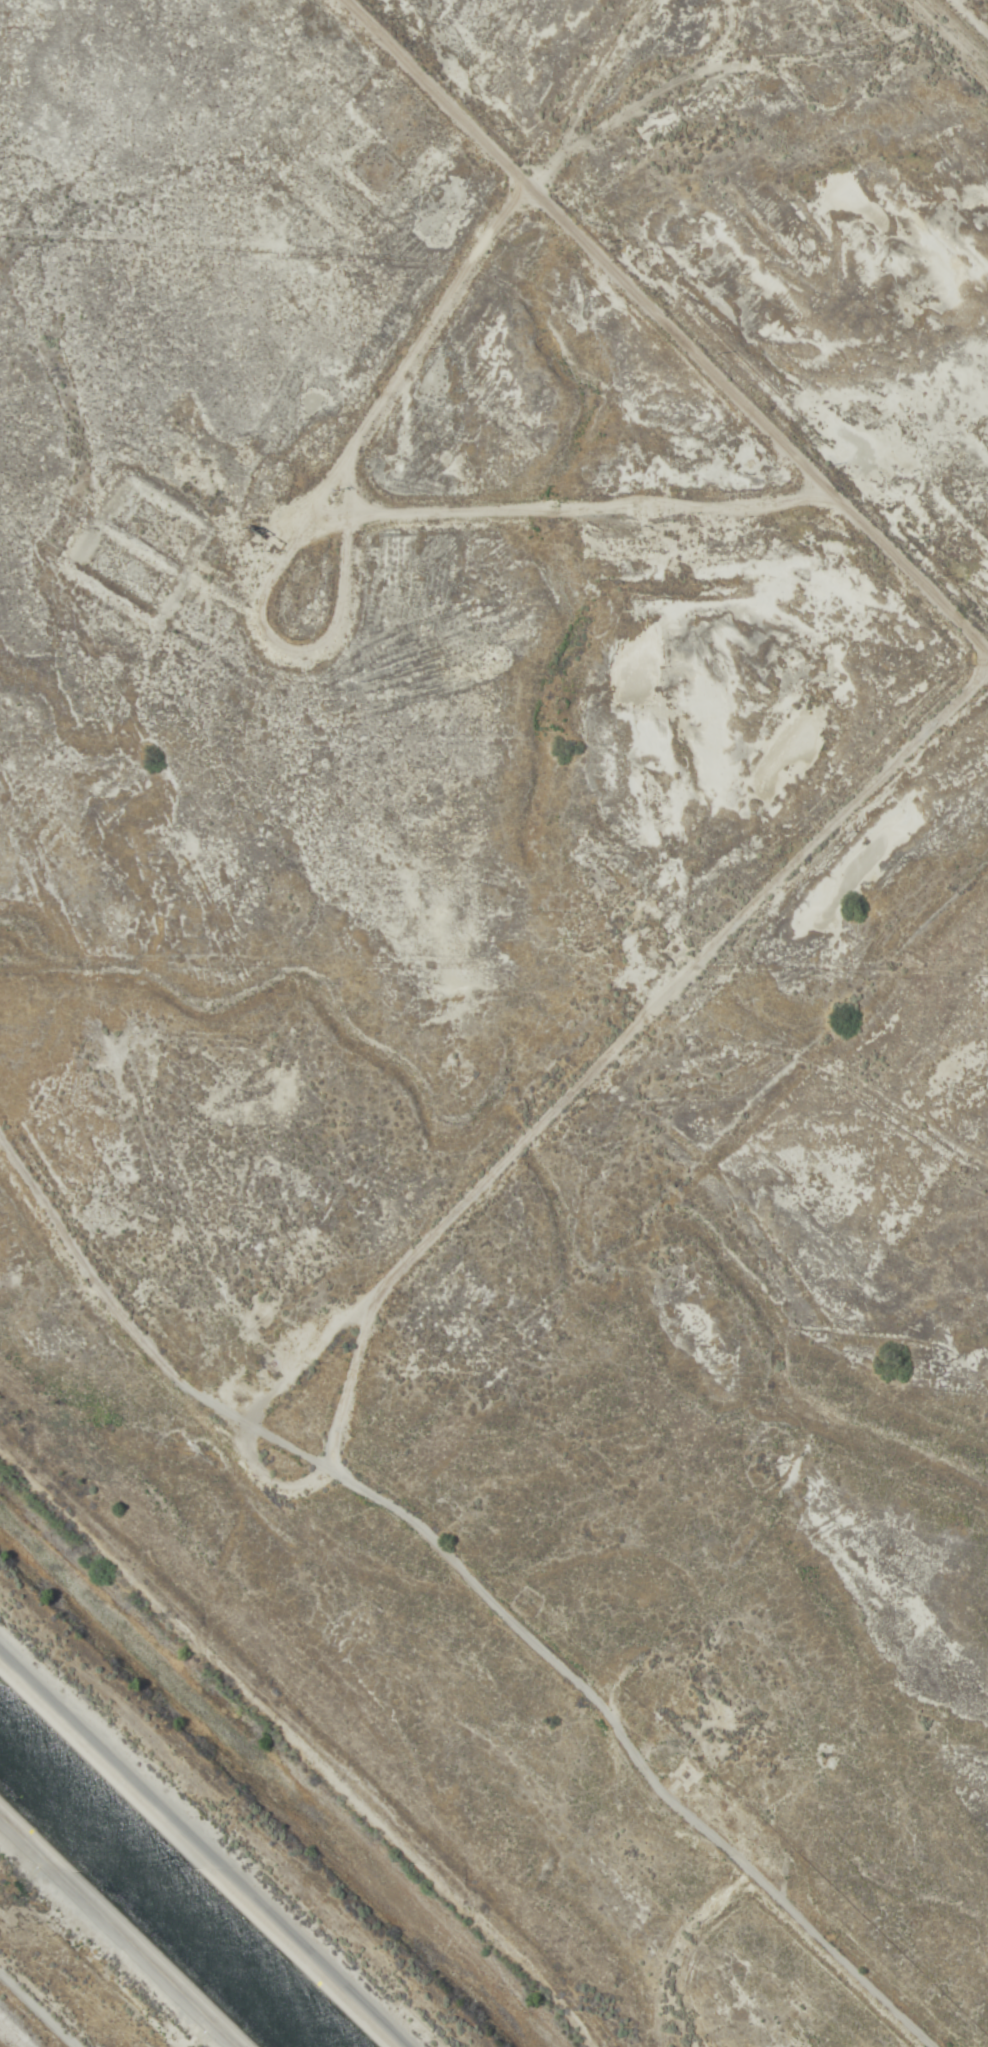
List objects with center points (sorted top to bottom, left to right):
road: (434, 87)
road: (590, 246)
road: (453, 1193)
road: (631, 1746)
road: (221, 1824)
road: (112, 1939)
road: (38, 2010)
road: (10, 2036)

